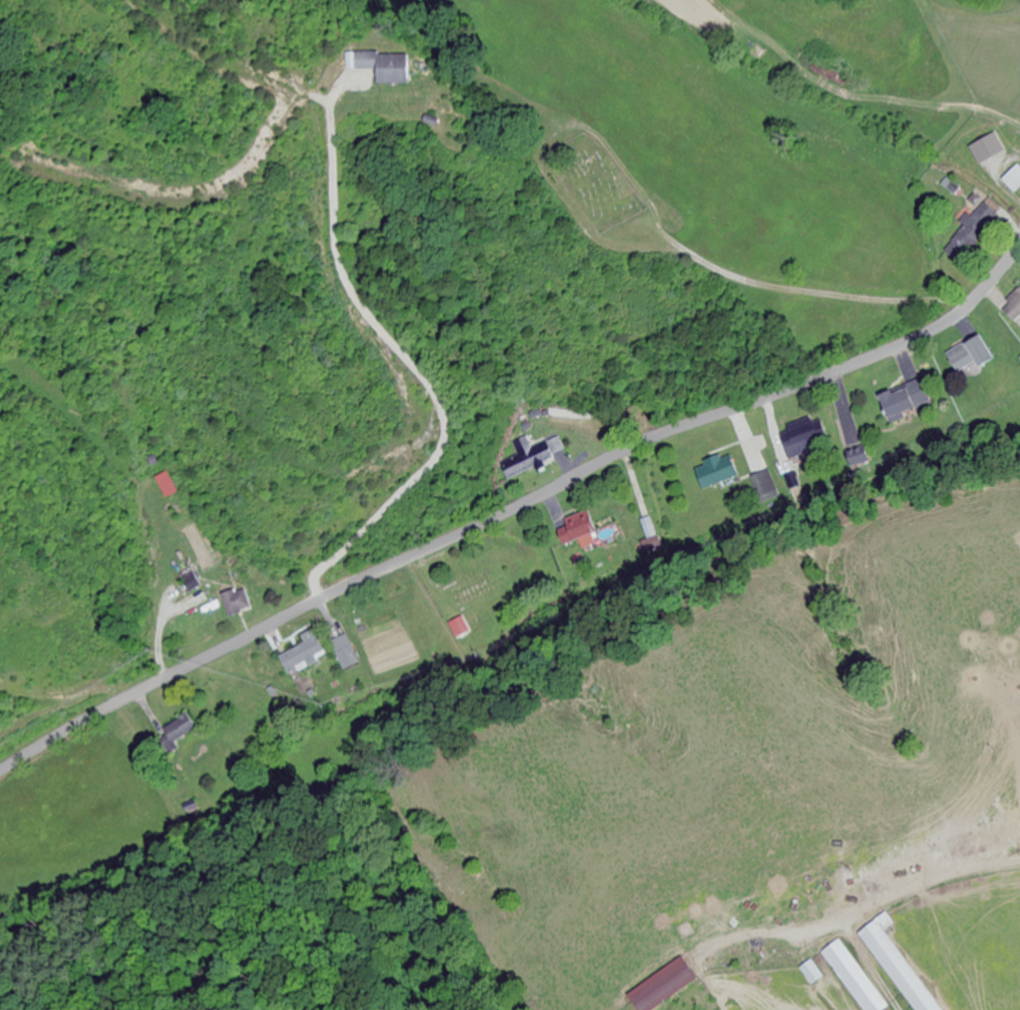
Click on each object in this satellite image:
building: (385, 67)
building: (987, 150)
park: (595, 182)
building: (975, 228)
road: (800, 290)
building: (1016, 302)
building: (971, 356)
building: (905, 402)
building: (803, 439)
building: (527, 463)
building: (717, 473)
building: (165, 486)
building: (766, 488)
road: (516, 509)
building: (585, 534)
building: (190, 581)
building: (471, 591)
building: (237, 603)
building: (345, 653)
building: (303, 656)
building: (179, 733)
road: (916, 893)
building: (900, 966)
building: (812, 974)
building: (854, 978)
building: (665, 987)

